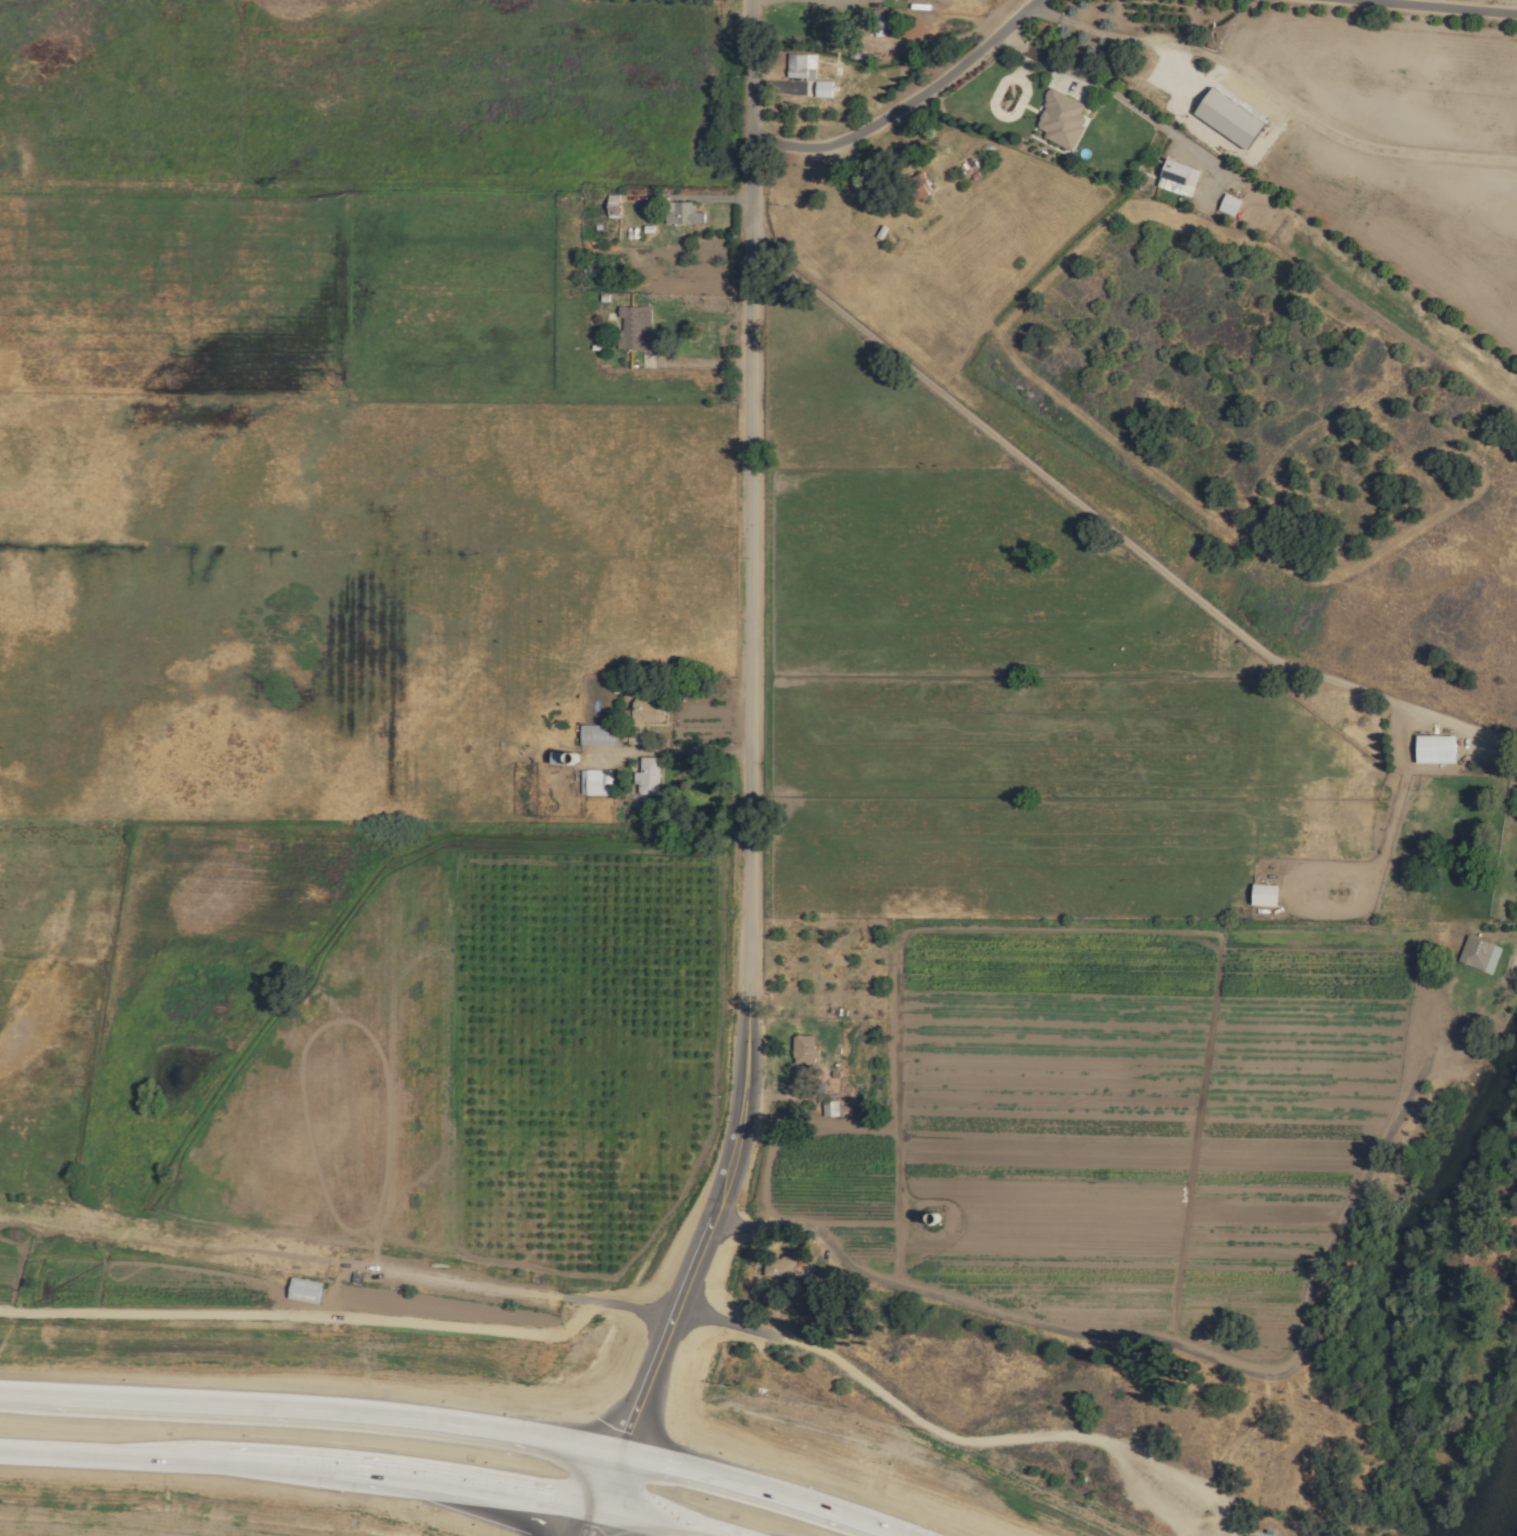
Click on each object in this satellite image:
road: (1416, 7)
road: (1109, 36)
road: (1204, 54)
building: (806, 75)
road: (1102, 87)
road: (902, 101)
building: (1059, 120)
crop: (1345, 128)
road: (1353, 144)
building: (1175, 178)
crop: (322, 182)
building: (1227, 204)
building: (610, 206)
building: (680, 214)
building: (633, 329)
road: (702, 365)
road: (1067, 495)
crop: (328, 594)
crop: (982, 690)
building: (643, 714)
building: (597, 735)
building: (1432, 749)
road: (719, 753)
road: (750, 768)
building: (646, 777)
building: (593, 783)
building: (1516, 879)
building: (1261, 895)
building: (1477, 955)
crop: (358, 1030)
building: (802, 1050)
crop: (1111, 1128)
building: (776, 1268)
building: (302, 1291)
road: (528, 1295)
road: (307, 1317)
road: (453, 1425)
road: (356, 1474)
river: (1506, 1510)
road: (586, 1521)

